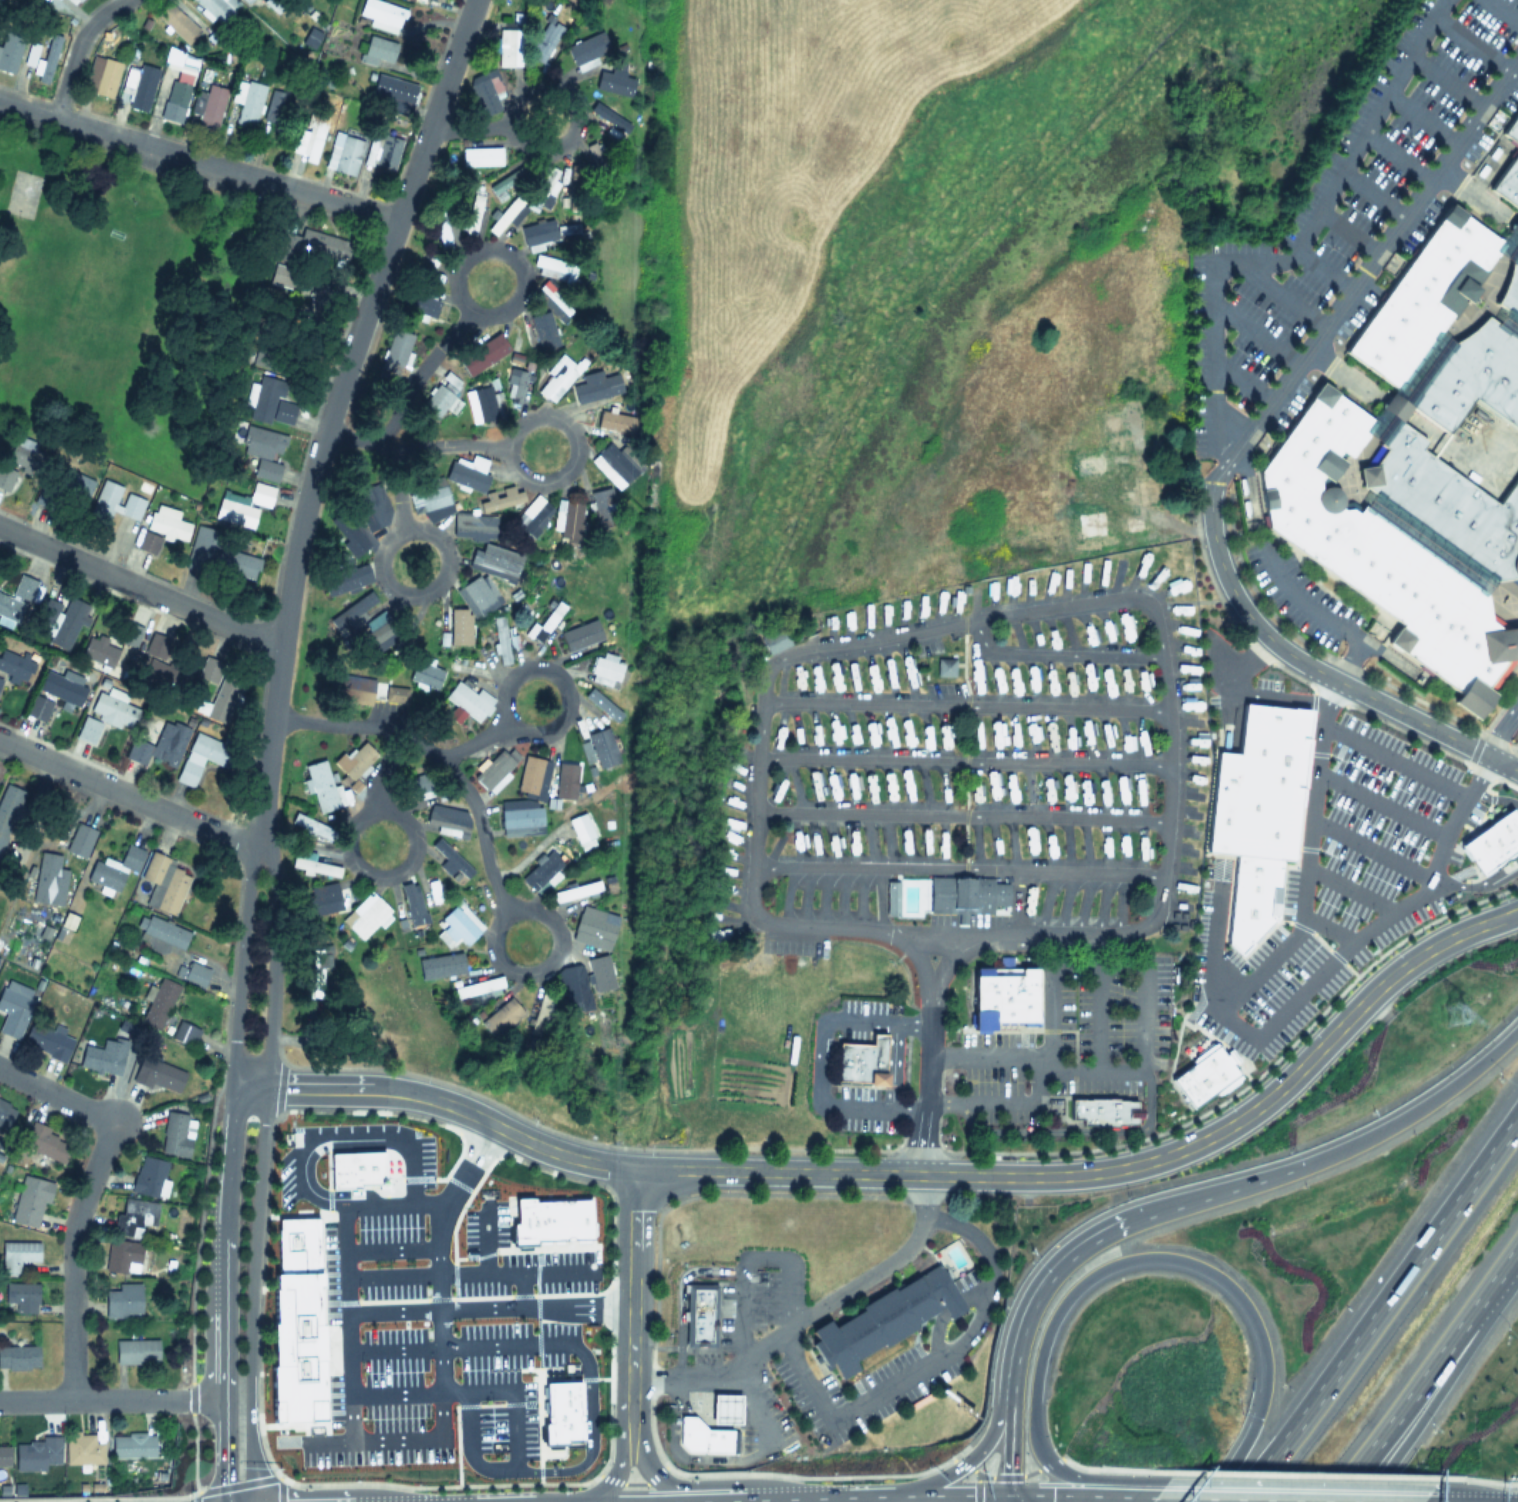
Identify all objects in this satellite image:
building: (77, 0)
building: (441, 0)
building: (246, 1)
building: (216, 8)
road: (1501, 11)
building: (381, 14)
building: (177, 23)
building: (547, 42)
road: (1472, 43)
building: (505, 47)
road: (75, 49)
building: (9, 50)
building: (378, 51)
building: (581, 55)
building: (41, 56)
building: (103, 75)
road: (1446, 82)
building: (612, 83)
building: (139, 86)
building: (490, 89)
building: (529, 90)
building: (177, 91)
building: (393, 93)
building: (247, 102)
building: (208, 106)
building: (278, 106)
road: (575, 113)
building: (610, 116)
road: (1421, 119)
building: (1512, 127)
road: (469, 129)
building: (308, 139)
building: (383, 152)
building: (343, 153)
building: (481, 157)
road: (1395, 157)
road: (197, 162)
building: (602, 168)
building: (575, 175)
building: (1507, 181)
building: (548, 182)
road: (1371, 194)
road: (1475, 195)
building: (22, 196)
building: (504, 215)
building: (467, 223)
road: (1515, 224)
parking lot: (1342, 230)
road: (1347, 231)
building: (442, 232)
building: (534, 235)
building: (1509, 239)
building: (314, 244)
road: (1510, 245)
road: (518, 254)
building: (545, 266)
road: (1321, 269)
road: (1364, 270)
building: (1510, 286)
building: (548, 293)
road: (1282, 293)
building: (1424, 293)
road: (1473, 297)
crop: (899, 300)
building: (318, 304)
building: (419, 306)
road: (1487, 306)
park: (123, 309)
road: (1214, 321)
road: (1509, 322)
building: (1509, 323)
road: (1255, 333)
building: (398, 348)
building: (486, 352)
road: (419, 372)
road: (1347, 373)
building: (559, 376)
building: (1472, 377)
road: (1243, 380)
building: (1407, 385)
building: (516, 387)
road: (1408, 388)
building: (404, 397)
building: (273, 401)
building: (439, 401)
building: (484, 402)
road: (1394, 408)
road: (330, 413)
building: (614, 421)
building: (1122, 421)
road: (414, 446)
road: (1454, 451)
road: (573, 452)
building: (17, 464)
building: (1090, 464)
building: (269, 470)
building: (468, 472)
road: (1348, 473)
building: (611, 476)
building: (69, 488)
road: (398, 488)
building: (261, 495)
building: (602, 500)
building: (368, 501)
building: (113, 503)
building: (1446, 504)
building: (235, 512)
building: (532, 514)
building: (570, 519)
building: (1091, 523)
building: (1134, 523)
building: (163, 527)
building: (471, 527)
building: (1427, 544)
road: (1427, 544)
building: (198, 550)
building: (1381, 557)
building: (493, 560)
road: (445, 564)
building: (233, 566)
building: (345, 578)
building: (1155, 579)
road: (139, 586)
building: (477, 592)
road: (1503, 597)
parking lot: (1304, 599)
building: (15, 603)
building: (48, 607)
building: (354, 608)
road: (985, 618)
building: (459, 628)
building: (1126, 628)
building: (128, 634)
building: (576, 636)
building: (376, 637)
building: (501, 639)
building: (774, 641)
building: (99, 650)
road: (1058, 653)
road: (1239, 658)
building: (14, 666)
building: (606, 666)
building: (160, 667)
road: (1315, 668)
building: (425, 674)
road: (319, 676)
building: (1089, 680)
building: (976, 682)
building: (1051, 682)
building: (1070, 682)
building: (1143, 687)
building: (221, 688)
building: (349, 688)
building: (54, 694)
building: (395, 694)
road: (1274, 695)
building: (469, 700)
road: (566, 704)
road: (965, 705)
building: (114, 708)
building: (87, 727)
road: (1500, 730)
building: (590, 734)
parking lot: (1514, 739)
road: (475, 740)
building: (159, 745)
road: (439, 754)
building: (202, 756)
road: (1389, 758)
building: (357, 759)
road: (964, 761)
road: (378, 768)
building: (493, 769)
building: (530, 774)
building: (320, 785)
building: (419, 785)
road: (1491, 795)
road: (130, 796)
road: (1375, 802)
building: (9, 808)
building: (1255, 812)
road: (961, 814)
building: (1357, 817)
building: (521, 821)
building: (303, 823)
building: (580, 828)
building: (79, 839)
building: (1491, 841)
road: (415, 846)
road: (1368, 846)
building: (451, 860)
building: (302, 864)
building: (115, 867)
road: (957, 868)
building: (543, 876)
building: (49, 879)
building: (162, 882)
road: (1474, 883)
road: (1346, 886)
building: (967, 895)
building: (322, 902)
building: (411, 902)
road: (1019, 905)
building: (365, 915)
road: (1322, 926)
building: (456, 928)
building: (593, 929)
building: (162, 930)
road: (960, 932)
road: (559, 943)
road: (1210, 950)
road: (955, 953)
road: (916, 956)
road: (198, 959)
road: (241, 962)
road: (273, 963)
building: (440, 965)
road: (1122, 969)
building: (314, 974)
building: (196, 975)
building: (478, 986)
building: (576, 988)
building: (1002, 996)
building: (159, 1003)
building: (13, 1013)
power tower: (1459, 1014)
building: (501, 1017)
road: (1238, 1030)
building: (184, 1033)
building: (47, 1041)
road: (820, 1059)
building: (100, 1060)
building: (858, 1062)
road: (893, 1064)
building: (160, 1076)
building: (1201, 1076)
road: (1285, 1076)
road: (916, 1078)
road: (439, 1100)
building: (1102, 1109)
road: (1402, 1113)
building: (5, 1116)
parking lot: (355, 1127)
building: (175, 1135)
road: (340, 1136)
building: (47, 1142)
parking lot: (422, 1161)
building: (357, 1172)
road: (826, 1172)
building: (149, 1177)
parking lot: (282, 1177)
road: (84, 1196)
road: (1193, 1197)
road: (388, 1201)
building: (29, 1202)
building: (133, 1218)
building: (554, 1223)
road: (483, 1239)
road: (226, 1241)
road: (385, 1248)
building: (121, 1255)
building: (16, 1256)
parking lot: (516, 1260)
road: (1114, 1260)
road: (509, 1271)
road: (433, 1278)
road: (1039, 1284)
road: (519, 1288)
road: (253, 1293)
building: (21, 1297)
road: (627, 1300)
building: (123, 1302)
building: (395, 1304)
road: (1379, 1304)
road: (484, 1306)
building: (697, 1313)
building: (880, 1319)
road: (342, 1326)
building: (303, 1328)
road: (784, 1329)
parking lot: (373, 1341)
road: (454, 1345)
building: (136, 1352)
road: (763, 1352)
building: (19, 1358)
road: (929, 1359)
road: (727, 1369)
road: (1426, 1375)
road: (1436, 1387)
parking lot: (502, 1390)
road: (110, 1400)
road: (511, 1407)
building: (723, 1408)
gas station: (723, 1408)
building: (563, 1416)
road: (587, 1433)
building: (698, 1436)
road: (1007, 1441)
building: (133, 1446)
road: (364, 1448)
road: (221, 1449)
building: (83, 1451)
road: (973, 1451)
building: (4, 1455)
building: (37, 1455)
road: (664, 1466)
road: (1112, 1469)
road: (612, 1471)
road: (746, 1473)
road: (1301, 1475)
road: (1004, 1476)
road: (1476, 1479)
road: (631, 1482)
road: (705, 1482)
road: (1296, 1483)
road: (1464, 1487)
traffic signals: (1007, 1494)
road: (1078, 1495)
road: (794, 1497)
road: (1284, 1499)

